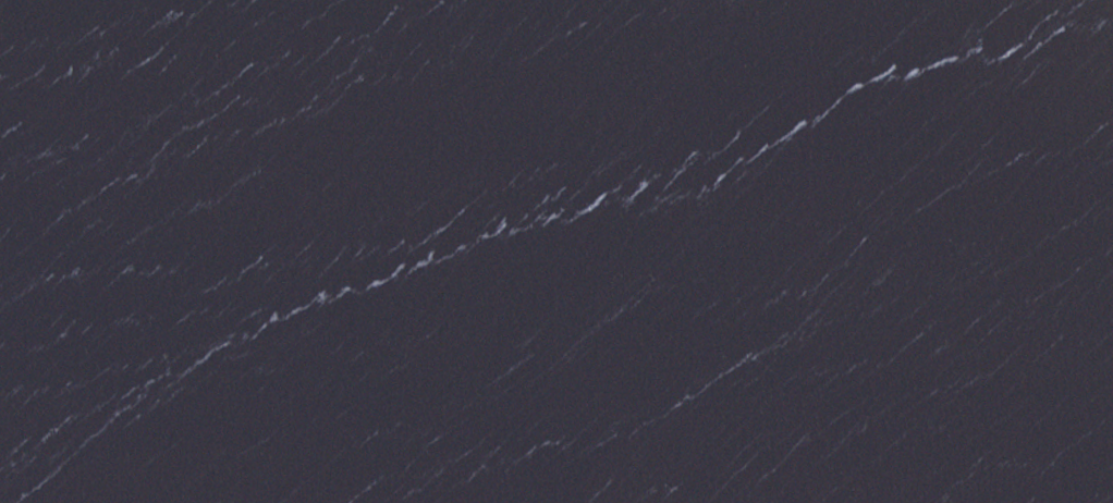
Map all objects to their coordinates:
river: (1050, 273)

